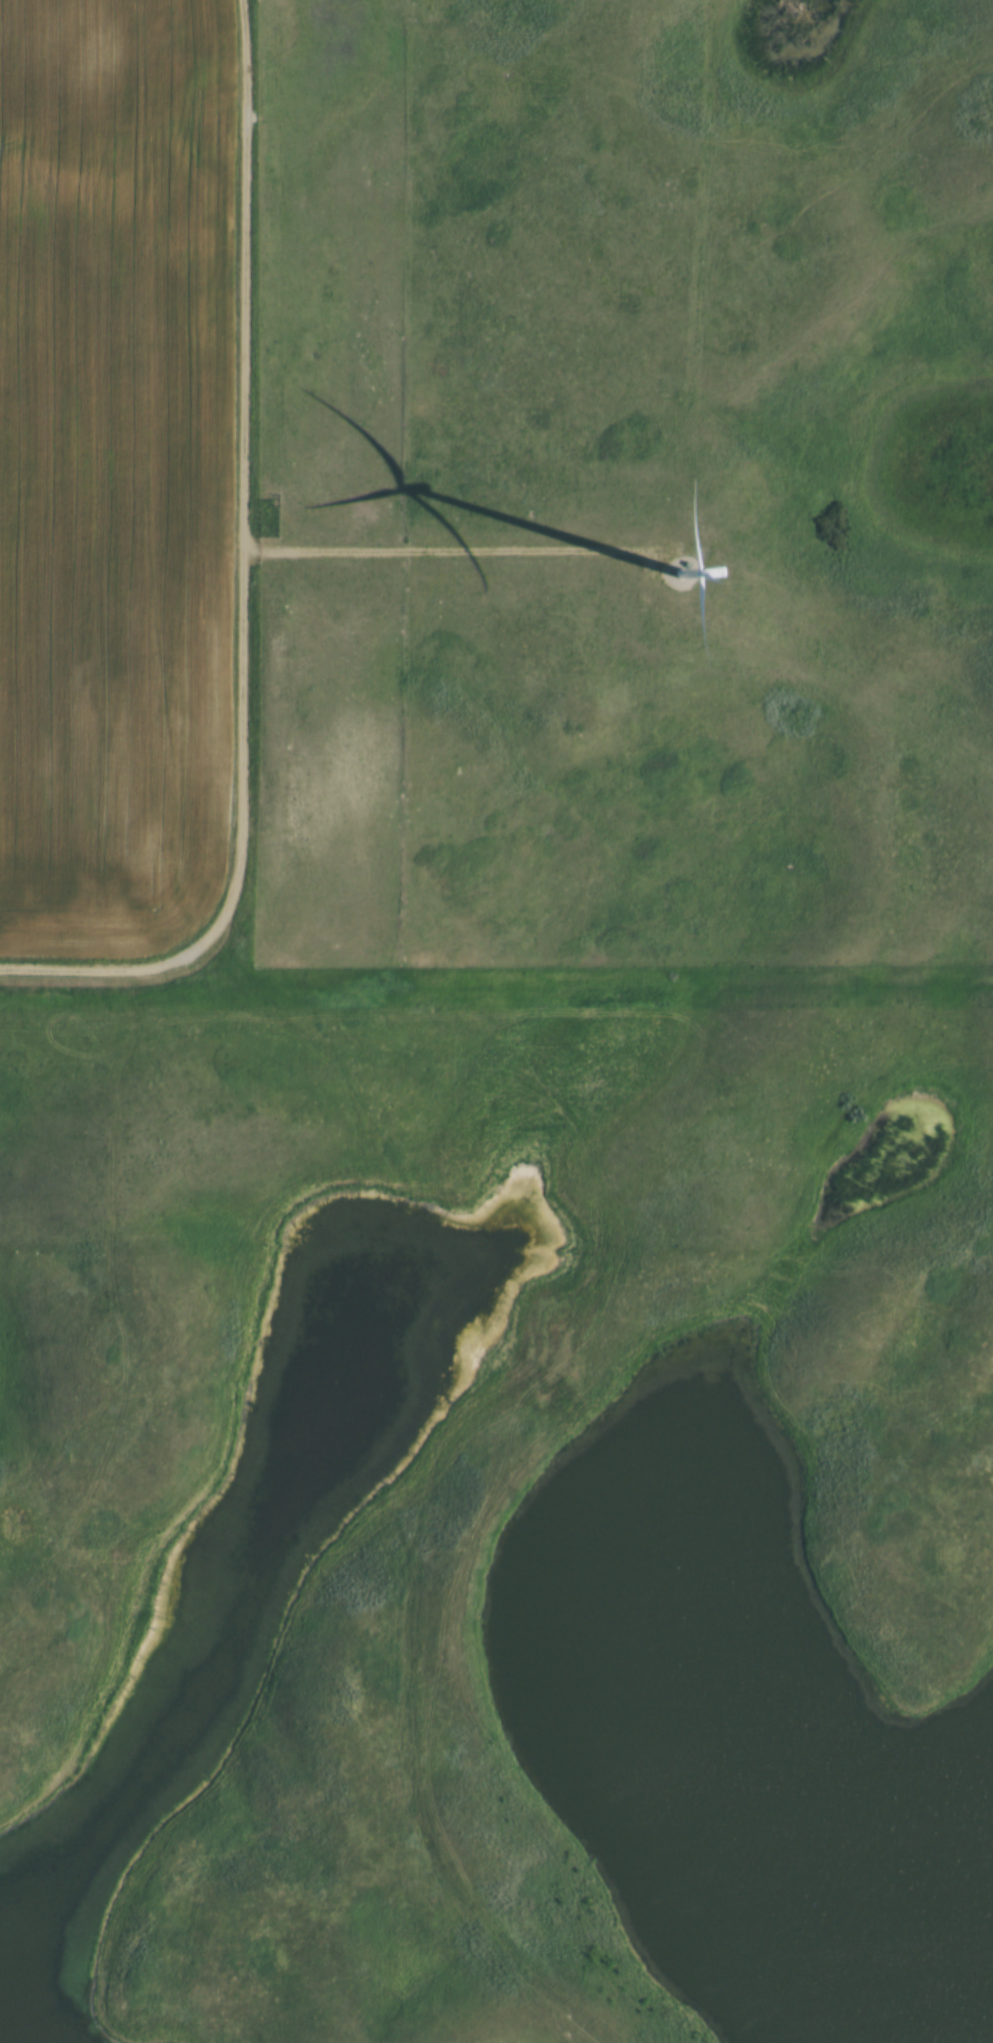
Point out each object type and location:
wind turbine: (680, 575)
road: (243, 583)

